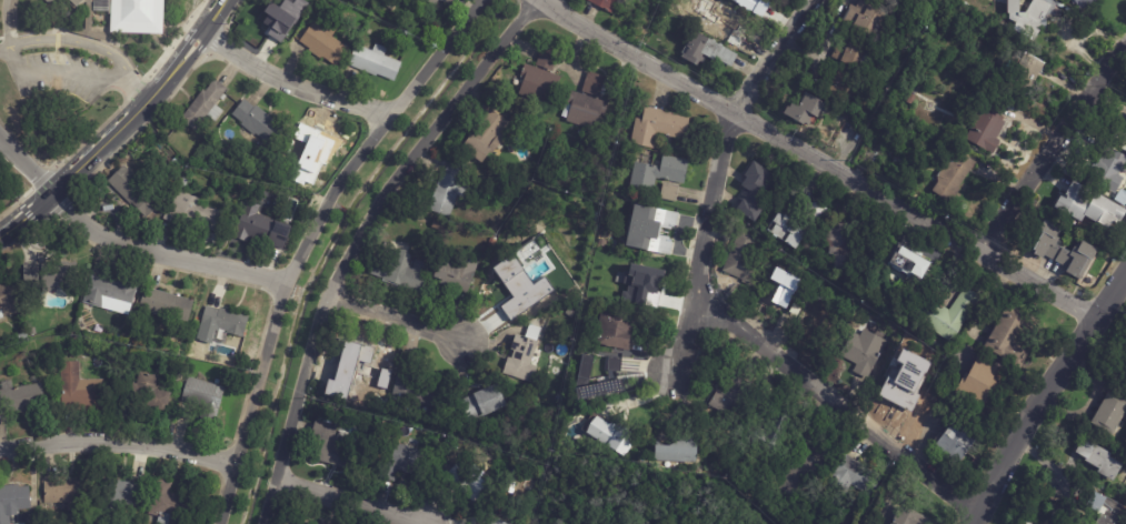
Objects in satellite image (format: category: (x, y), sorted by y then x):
building: (438, 0)
building: (90, 2)
building: (886, 2)
building: (462, 3)
building: (1086, 3)
building: (66, 4)
building: (605, 4)
building: (757, 7)
building: (133, 16)
building: (1030, 17)
building: (866, 19)
building: (276, 21)
road: (10, 22)
building: (726, 27)
road: (84, 42)
building: (325, 42)
building: (709, 52)
building: (857, 53)
road: (771, 58)
building: (376, 62)
building: (1028, 71)
road: (59, 73)
building: (540, 79)
parking lot: (60, 81)
road: (288, 83)
building: (594, 84)
building: (844, 90)
building: (911, 100)
building: (206, 107)
building: (806, 109)
building: (585, 111)
building: (887, 114)
building: (259, 124)
building: (988, 124)
building: (659, 127)
road: (119, 129)
building: (848, 129)
building: (486, 138)
building: (1120, 141)
road: (1053, 148)
building: (311, 158)
road: (820, 161)
building: (898, 162)
building: (1108, 169)
building: (659, 174)
building: (954, 174)
building: (183, 184)
building: (449, 190)
building: (755, 192)
building: (134, 193)
building: (670, 193)
building: (1124, 202)
road: (332, 205)
building: (1092, 208)
building: (817, 212)
road: (348, 213)
building: (193, 215)
road: (363, 221)
building: (438, 226)
building: (261, 229)
building: (787, 230)
building: (652, 231)
road: (308, 241)
road: (358, 242)
building: (492, 243)
building: (602, 244)
road: (126, 246)
road: (704, 250)
building: (845, 251)
building: (1067, 252)
building: (746, 261)
building: (908, 263)
building: (401, 272)
building: (50, 274)
building: (457, 275)
building: (637, 275)
building: (784, 288)
building: (110, 293)
building: (512, 295)
building: (7, 298)
building: (167, 306)
building: (797, 308)
building: (947, 314)
road: (401, 320)
building: (818, 320)
building: (222, 324)
building: (615, 332)
building: (32, 333)
building: (22, 336)
building: (1009, 340)
building: (863, 351)
building: (524, 360)
building: (612, 367)
building: (360, 371)
building: (901, 383)
building: (980, 385)
building: (82, 393)
building: (150, 394)
building: (426, 397)
building: (731, 397)
road: (1047, 397)
building: (203, 399)
building: (16, 400)
road: (838, 400)
building: (484, 405)
building: (619, 409)
building: (1112, 412)
building: (776, 433)
building: (611, 436)
building: (1125, 443)
road: (118, 445)
building: (957, 445)
building: (452, 447)
building: (330, 449)
building: (679, 454)
building: (1098, 457)
building: (410, 458)
building: (535, 472)
building: (799, 473)
building: (856, 476)
building: (470, 484)
building: (66, 492)
building: (122, 493)
building: (13, 501)
road: (353, 501)
building: (165, 503)
building: (1106, 508)
building: (910, 517)
building: (497, 522)
building: (308, 523)

